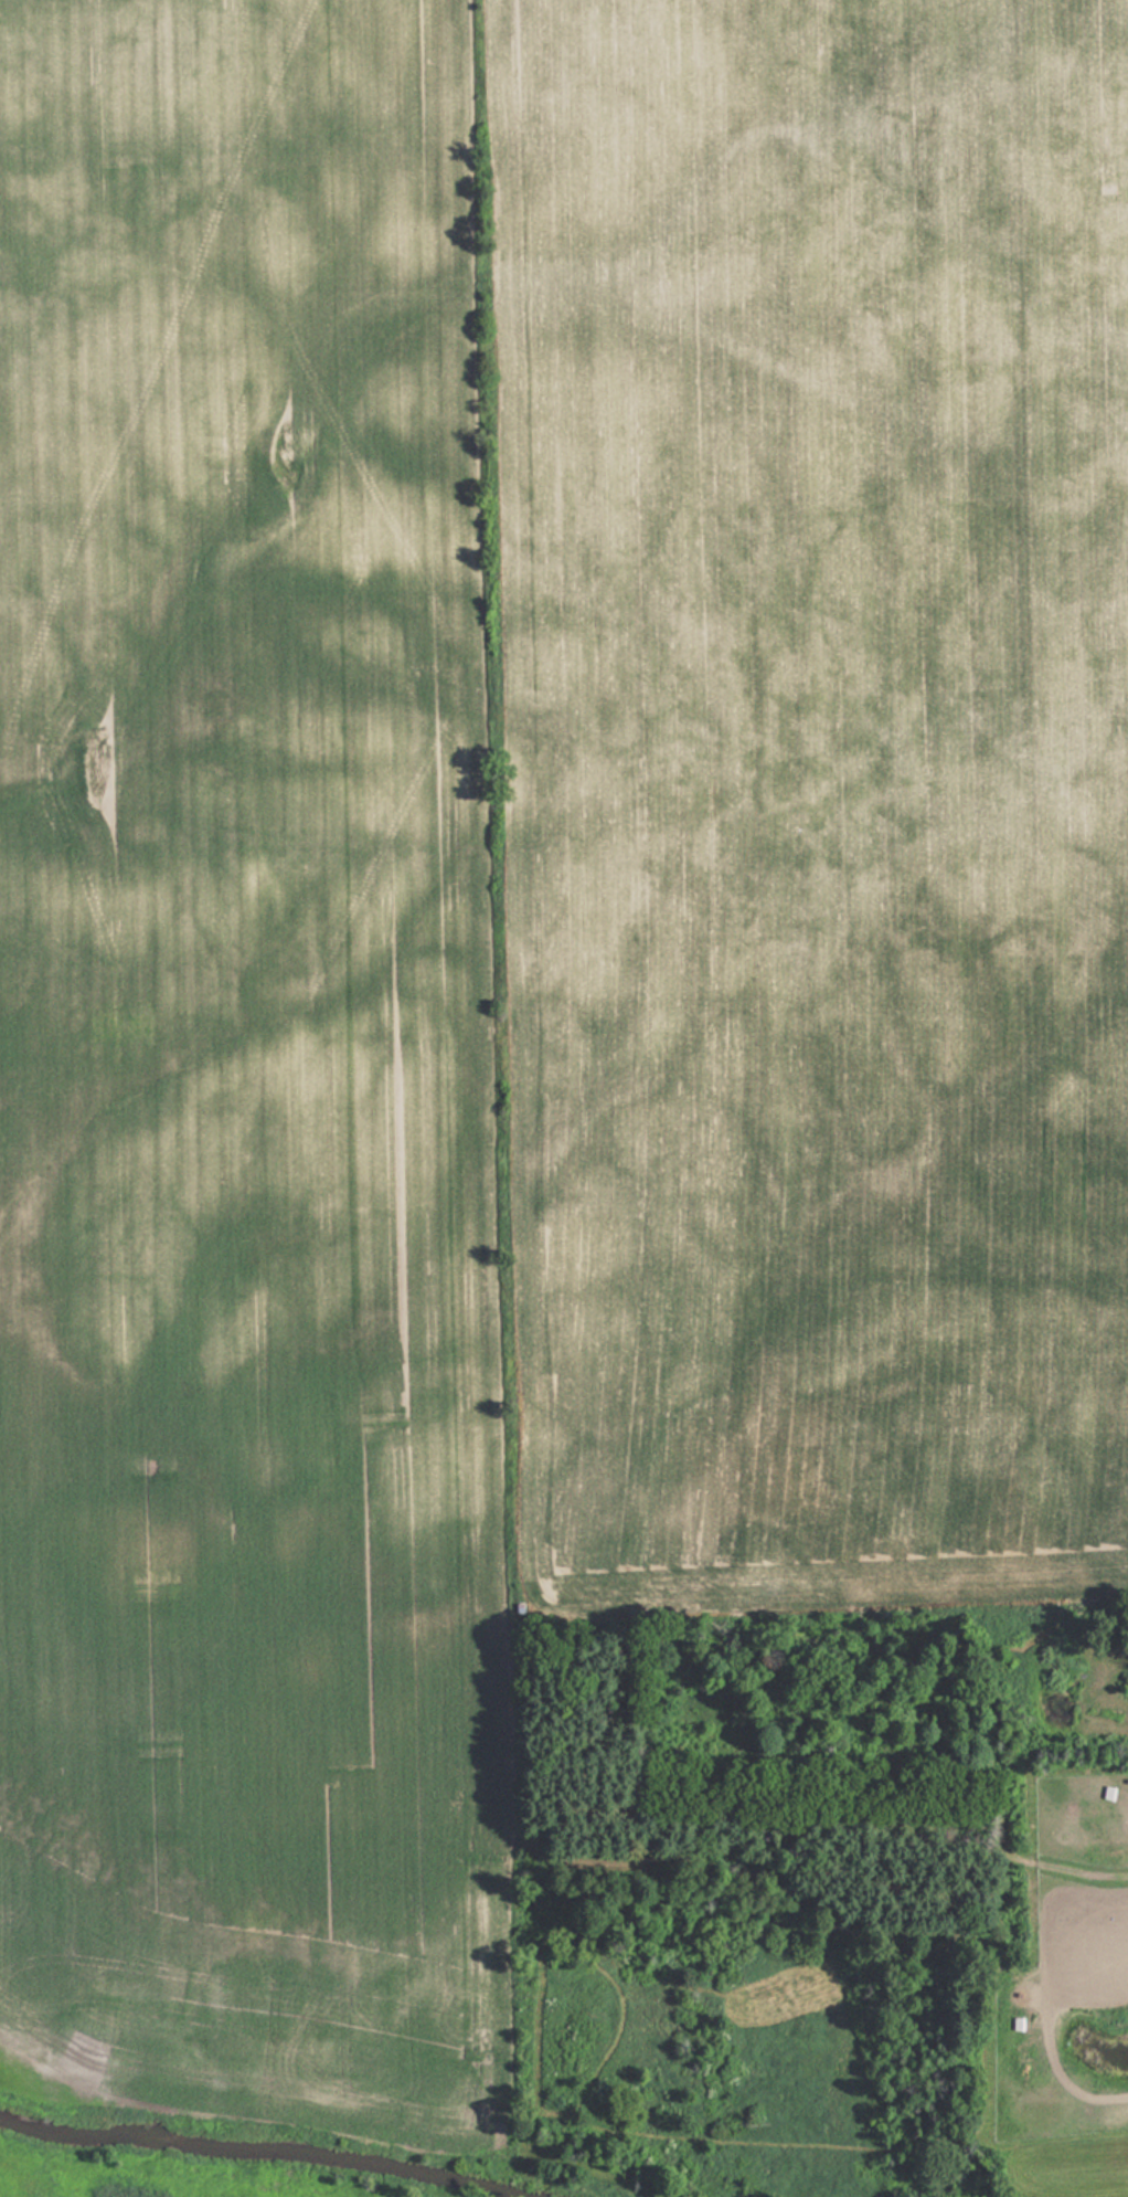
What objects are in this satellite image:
river: (259, 2152)

